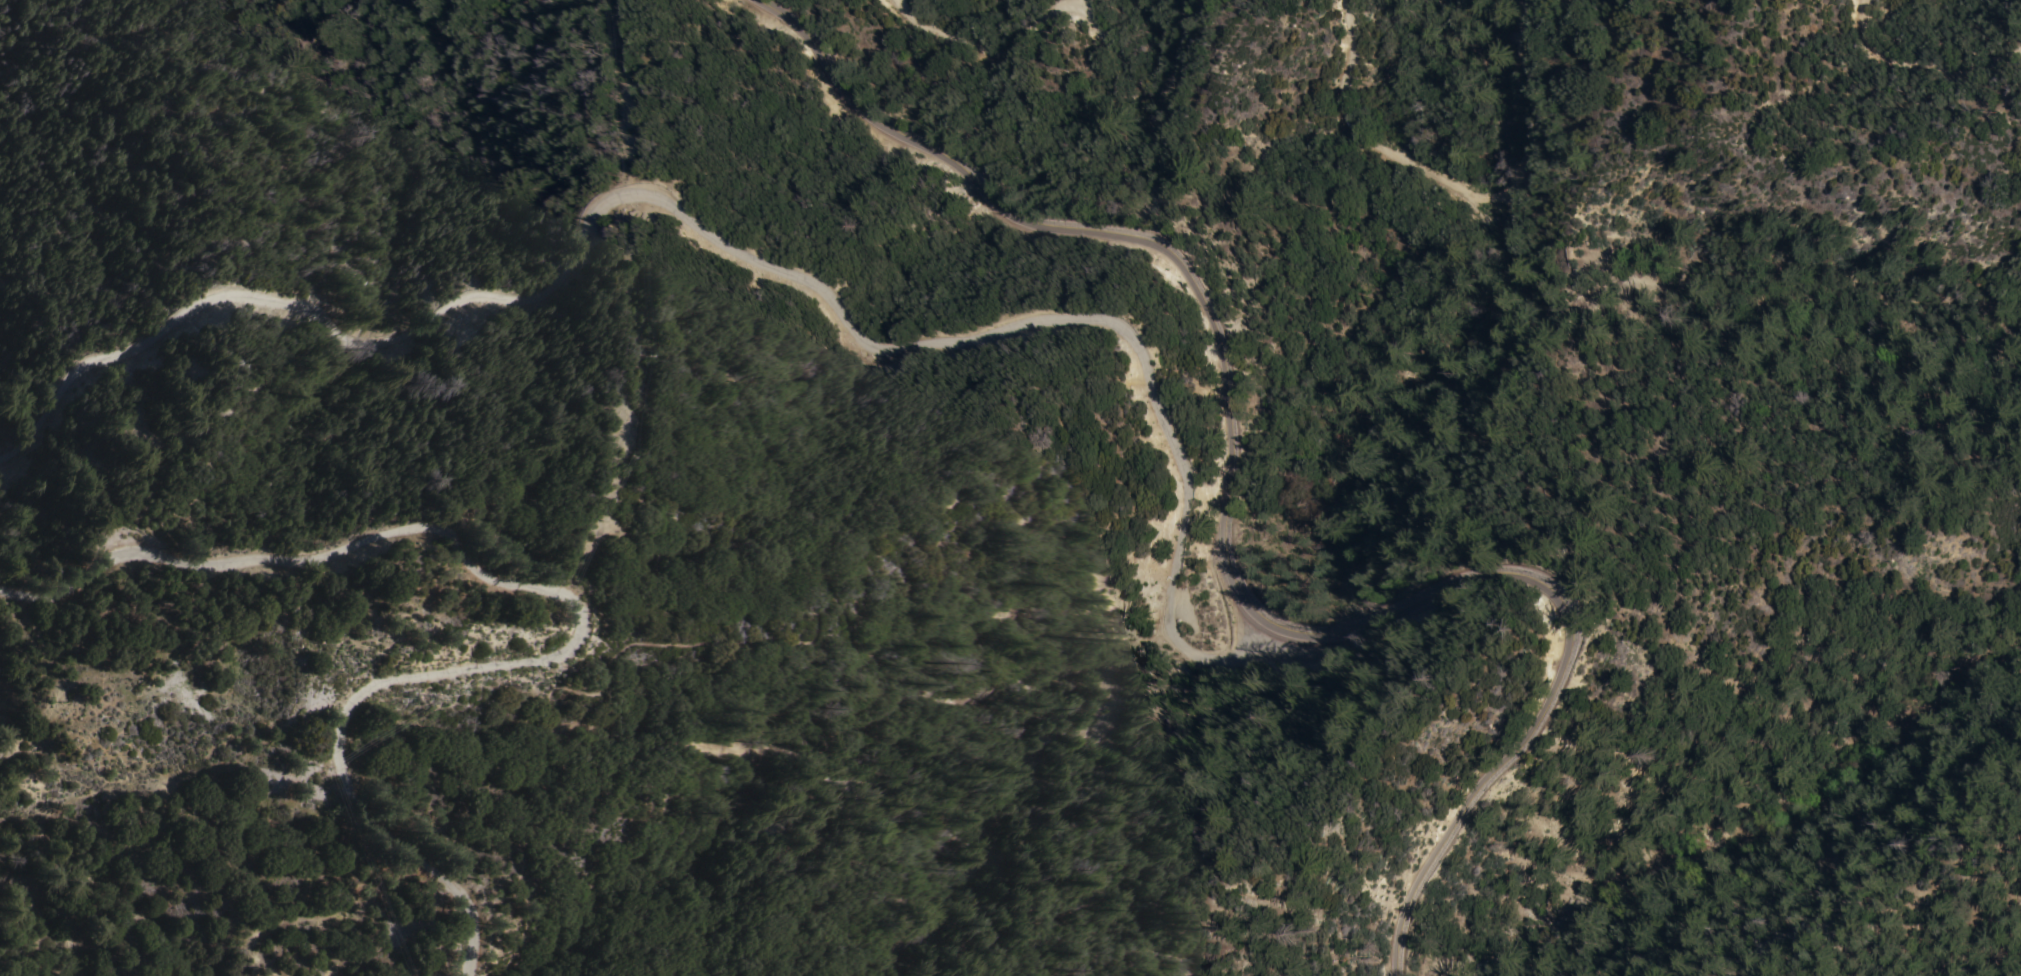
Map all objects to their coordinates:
road: (1081, 16)
building: (647, 59)
storage tank: (647, 59)
road: (1920, 67)
road: (1450, 192)
road: (729, 254)
road: (910, 500)
road: (1215, 557)
road: (573, 601)
parking lot: (1182, 609)

